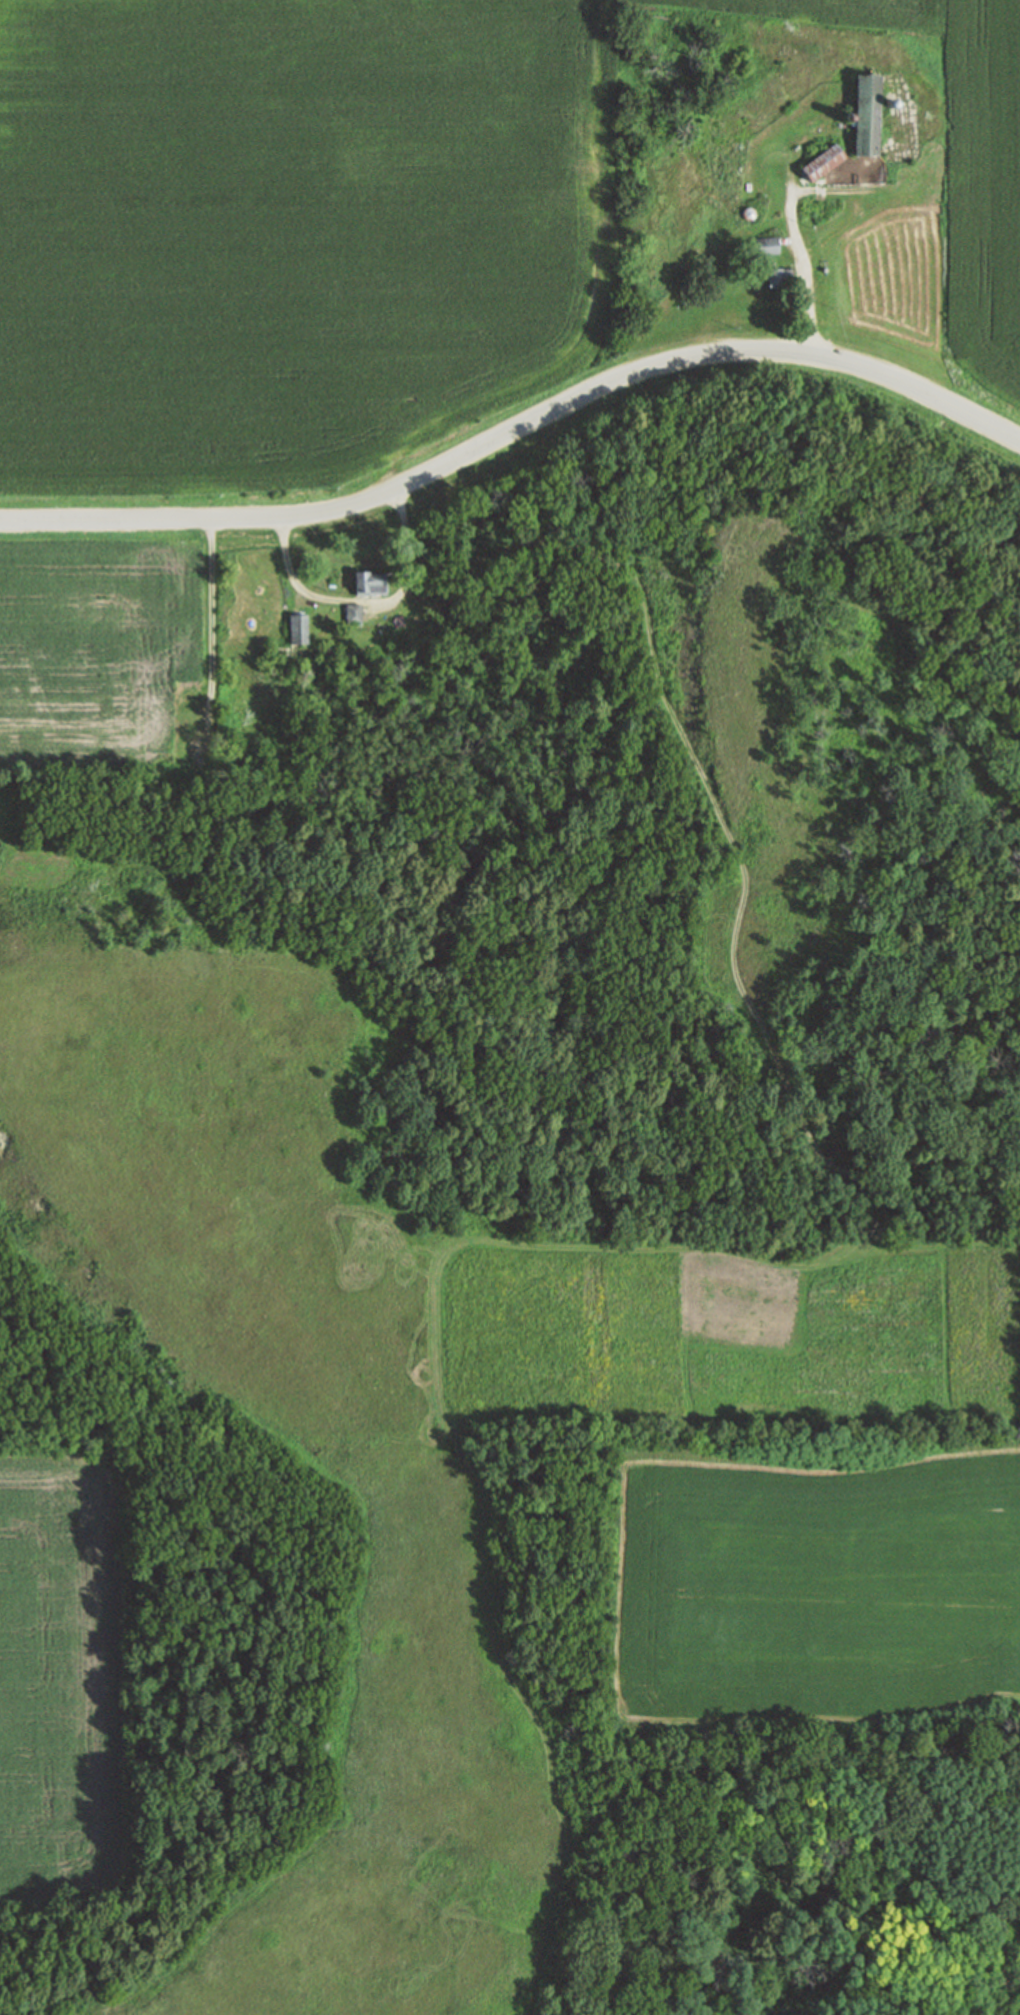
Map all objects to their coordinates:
building: (863, 115)
building: (817, 163)
road: (858, 208)
building: (767, 244)
road: (808, 265)
building: (775, 278)
road: (518, 429)
building: (363, 582)
road: (366, 601)
building: (353, 612)
building: (298, 629)
road: (212, 686)
road: (715, 800)

